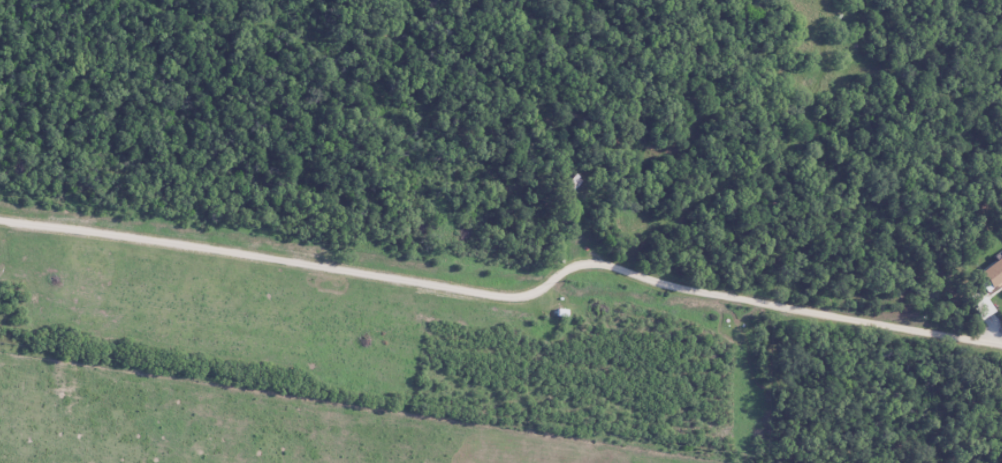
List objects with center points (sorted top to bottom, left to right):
building: (570, 182)
road: (507, 294)

